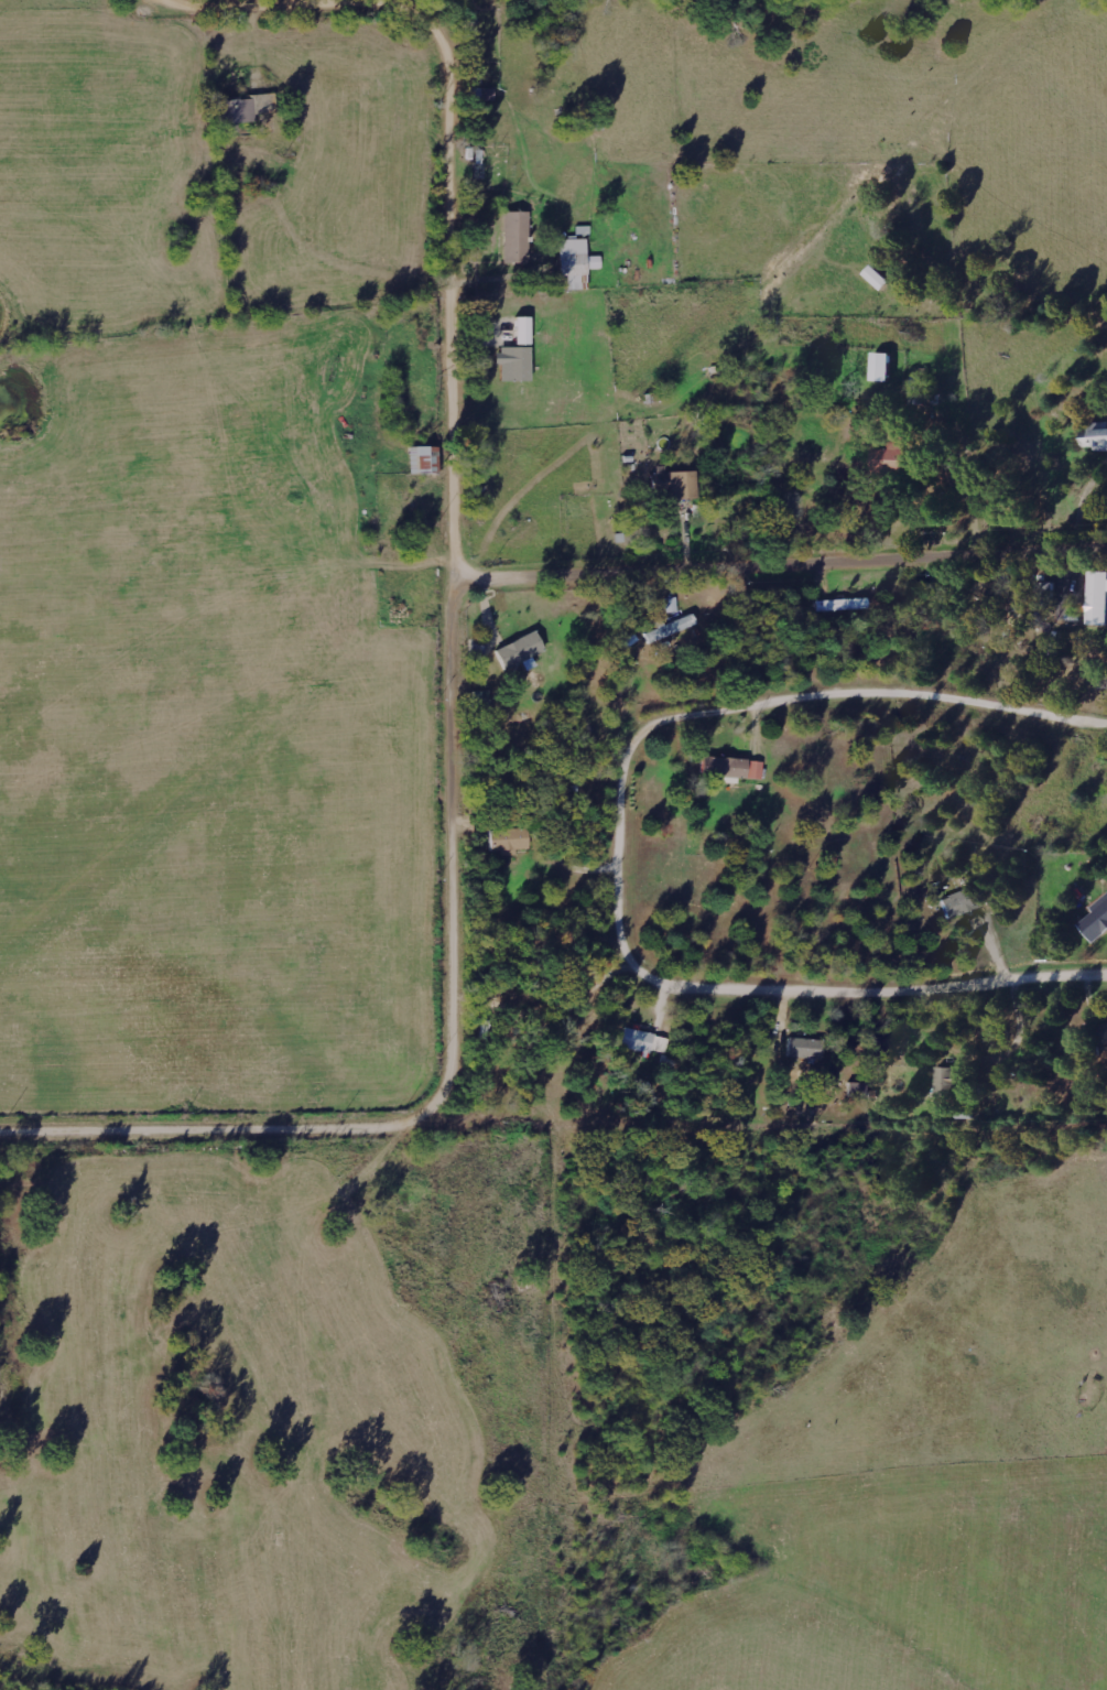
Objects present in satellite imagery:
building: (482, 94)
building: (243, 111)
building: (517, 237)
building: (577, 258)
road: (471, 295)
building: (524, 331)
building: (515, 364)
building: (884, 367)
building: (1097, 437)
building: (425, 459)
building: (891, 461)
building: (675, 484)
building: (1099, 599)
building: (842, 604)
building: (673, 627)
building: (521, 652)
road: (460, 752)
building: (732, 768)
building: (509, 839)
road: (631, 841)
building: (961, 903)
building: (1097, 922)
building: (1106, 1031)
building: (644, 1041)
building: (805, 1048)
building: (947, 1081)

